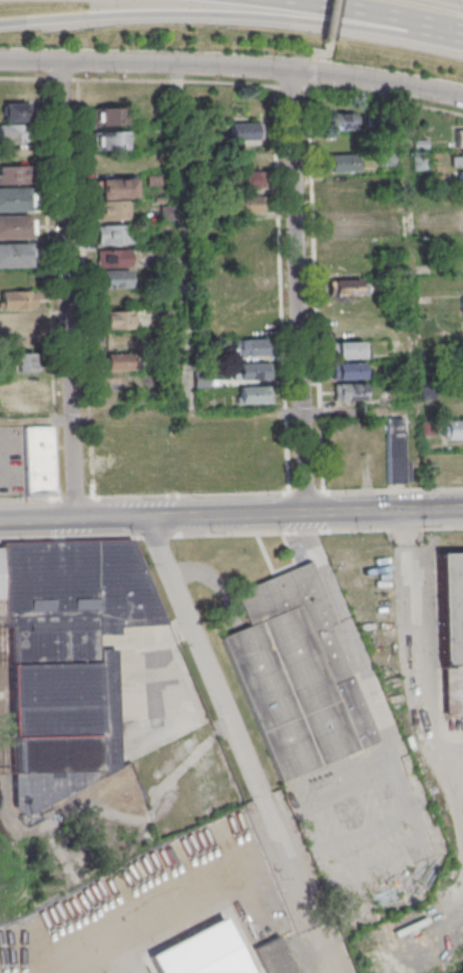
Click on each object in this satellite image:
road: (455, 1)
road: (351, 11)
road: (208, 17)
road: (440, 28)
road: (331, 32)
road: (312, 62)
road: (155, 63)
road: (310, 80)
road: (387, 84)
road: (386, 101)
building: (13, 112)
building: (109, 116)
building: (340, 121)
building: (244, 130)
building: (12, 132)
building: (459, 137)
building: (109, 140)
building: (243, 154)
building: (456, 157)
building: (342, 162)
building: (13, 173)
building: (460, 178)
building: (246, 179)
building: (342, 183)
building: (114, 197)
building: (13, 199)
building: (246, 204)
building: (342, 204)
building: (462, 220)
building: (343, 224)
building: (15, 226)
building: (248, 228)
building: (114, 233)
road: (187, 238)
building: (342, 245)
road: (412, 247)
building: (249, 252)
building: (14, 254)
building: (114, 257)
building: (115, 278)
building: (348, 287)
road: (71, 290)
road: (301, 292)
building: (18, 299)
building: (462, 303)
building: (117, 319)
building: (9, 335)
building: (118, 340)
building: (249, 347)
building: (351, 349)
building: (23, 361)
building: (118, 361)
building: (252, 370)
building: (347, 370)
building: (119, 383)
building: (348, 391)
building: (255, 393)
building: (16, 404)
road: (208, 412)
building: (452, 429)
building: (333, 437)
building: (395, 450)
building: (39, 459)
road: (420, 459)
road: (305, 513)
road: (113, 518)
road: (39, 520)
road: (319, 529)
road: (157, 534)
road: (312, 535)
road: (69, 537)
building: (451, 631)
road: (412, 643)
road: (205, 656)
building: (66, 661)
building: (293, 672)
road: (421, 839)
road: (299, 884)
building: (274, 956)

